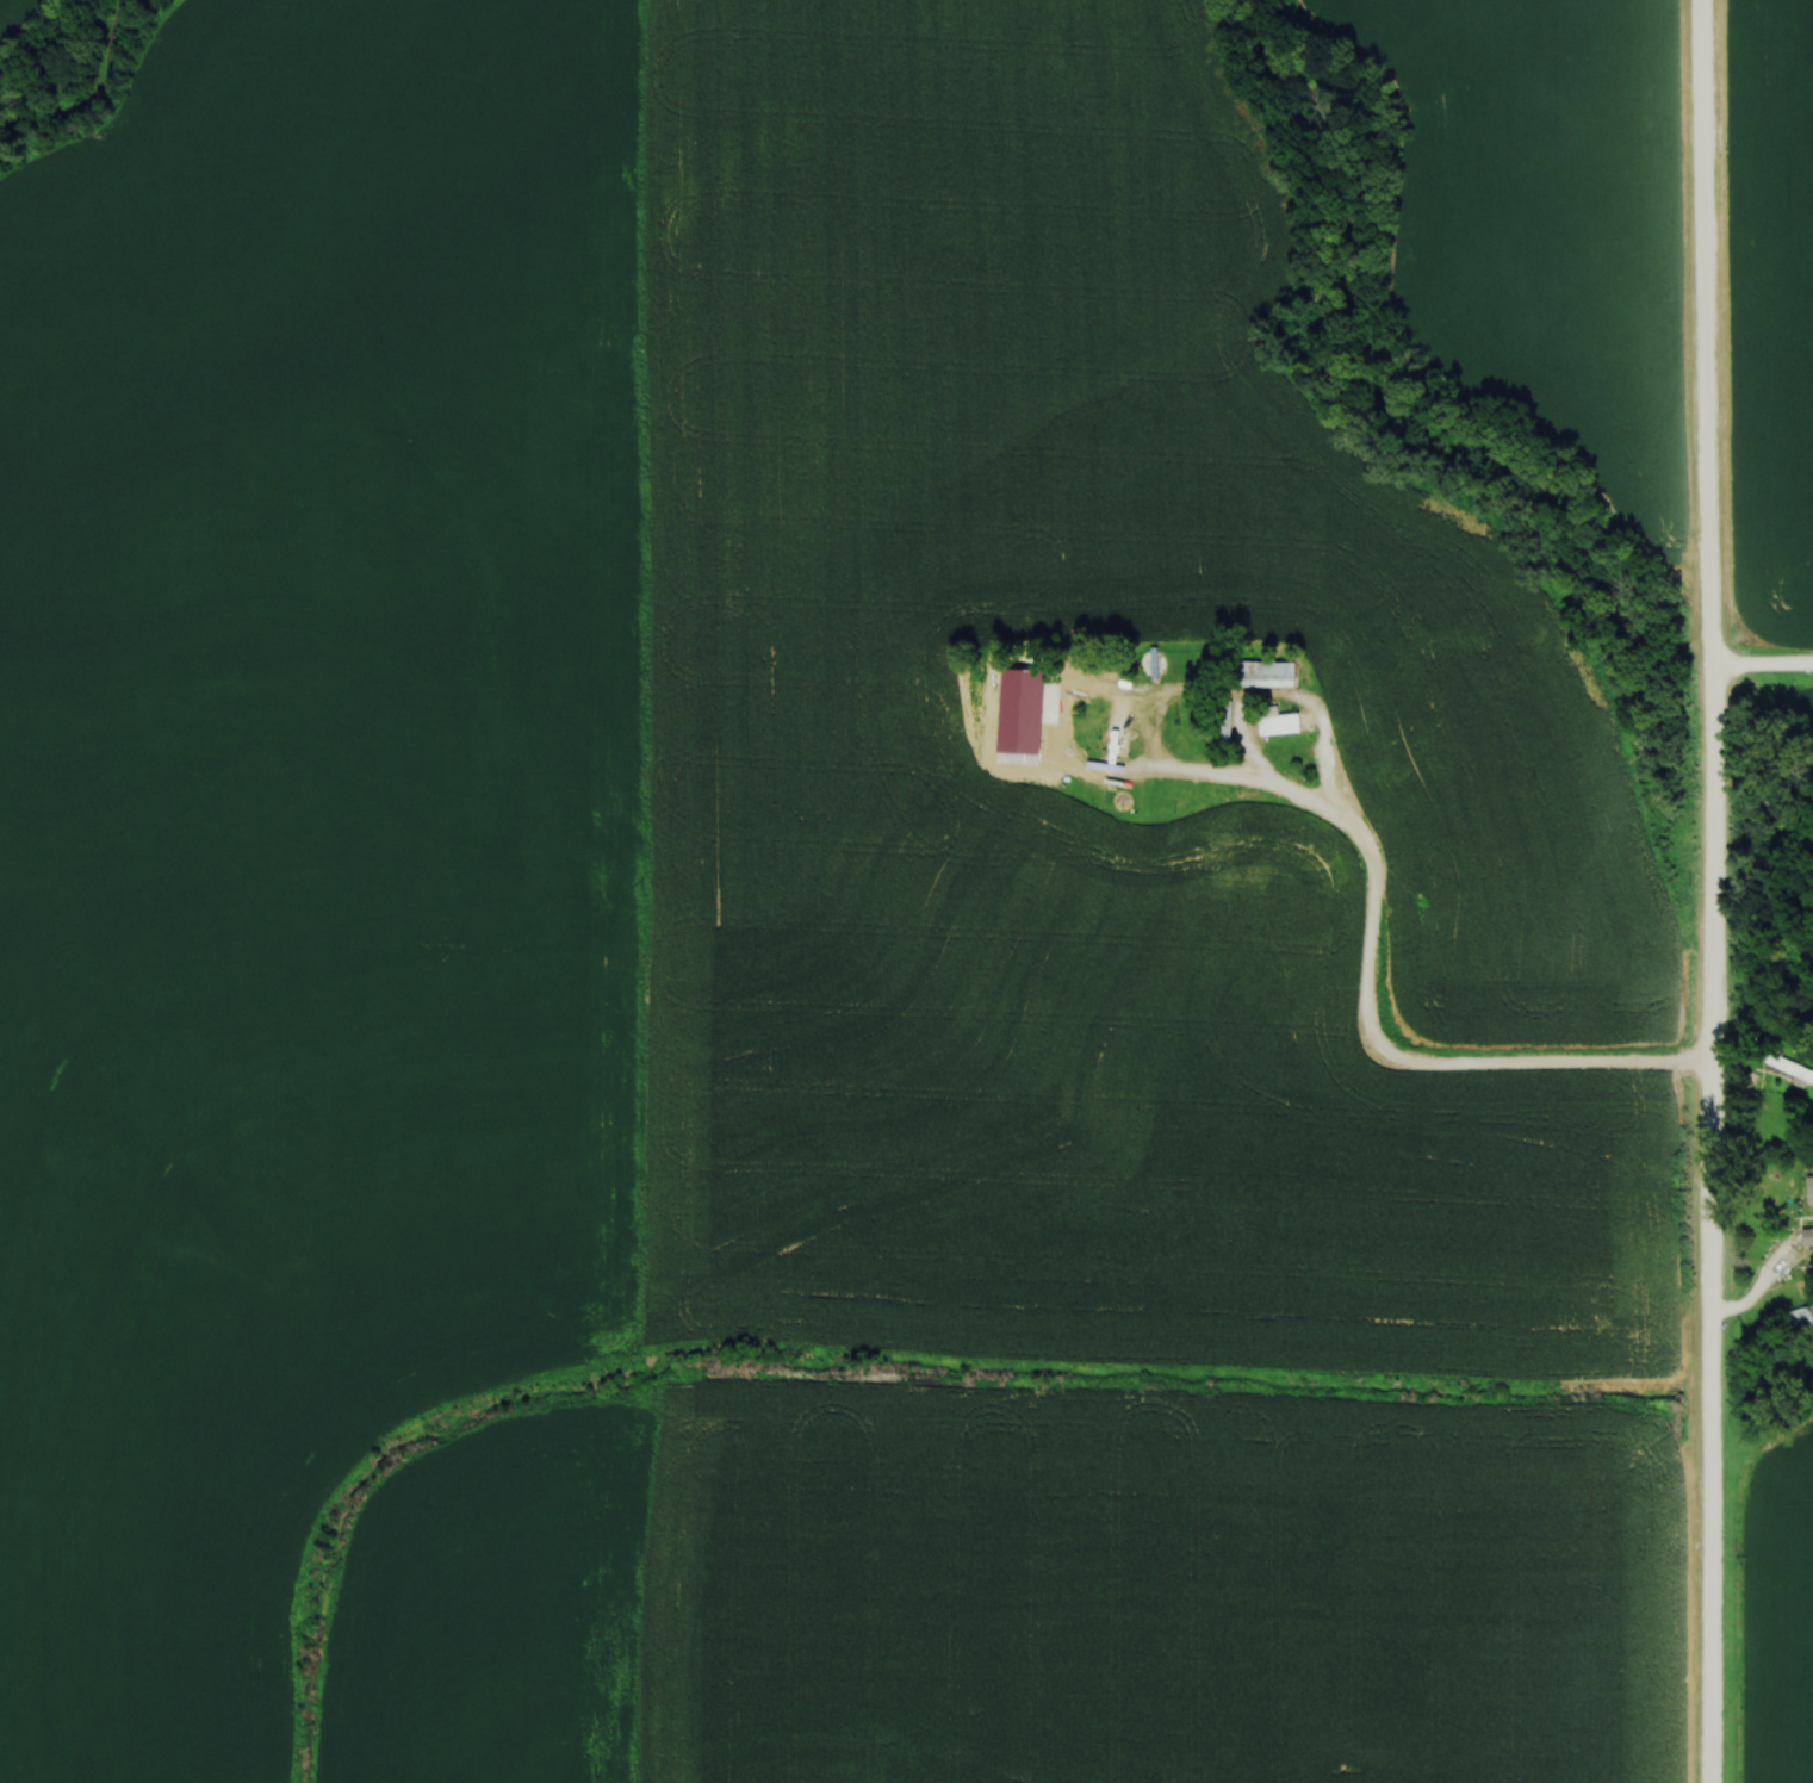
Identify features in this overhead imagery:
building: (1162, 664)
road: (1762, 664)
building: (1281, 676)
building: (1143, 708)
building: (1361, 715)
building: (1032, 723)
building: (1190, 725)
building: (1285, 725)
building: (1187, 740)
road: (1294, 791)
building: (1182, 801)
building: (1227, 803)
building: (1329, 843)
road: (1713, 890)
building: (1808, 1189)
road: (1755, 1296)

